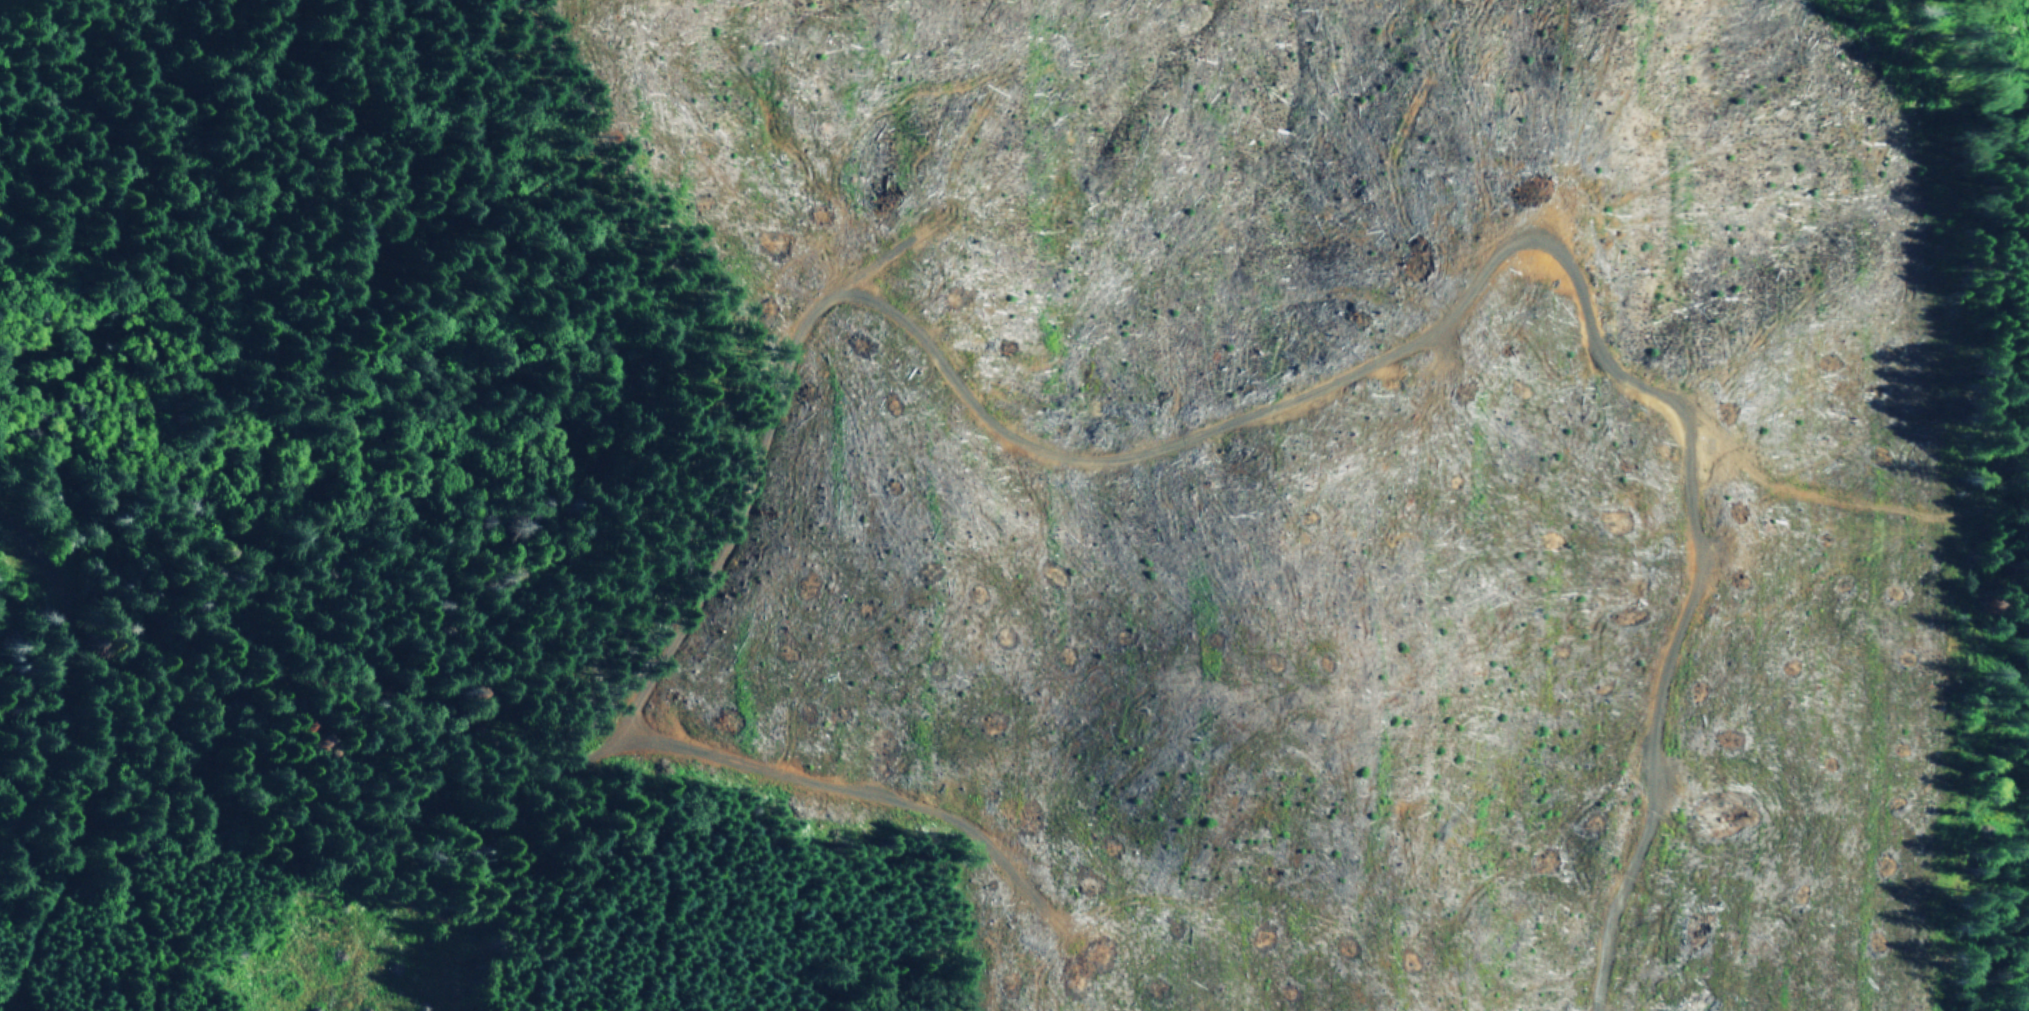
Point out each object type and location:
road: (634, 705)

